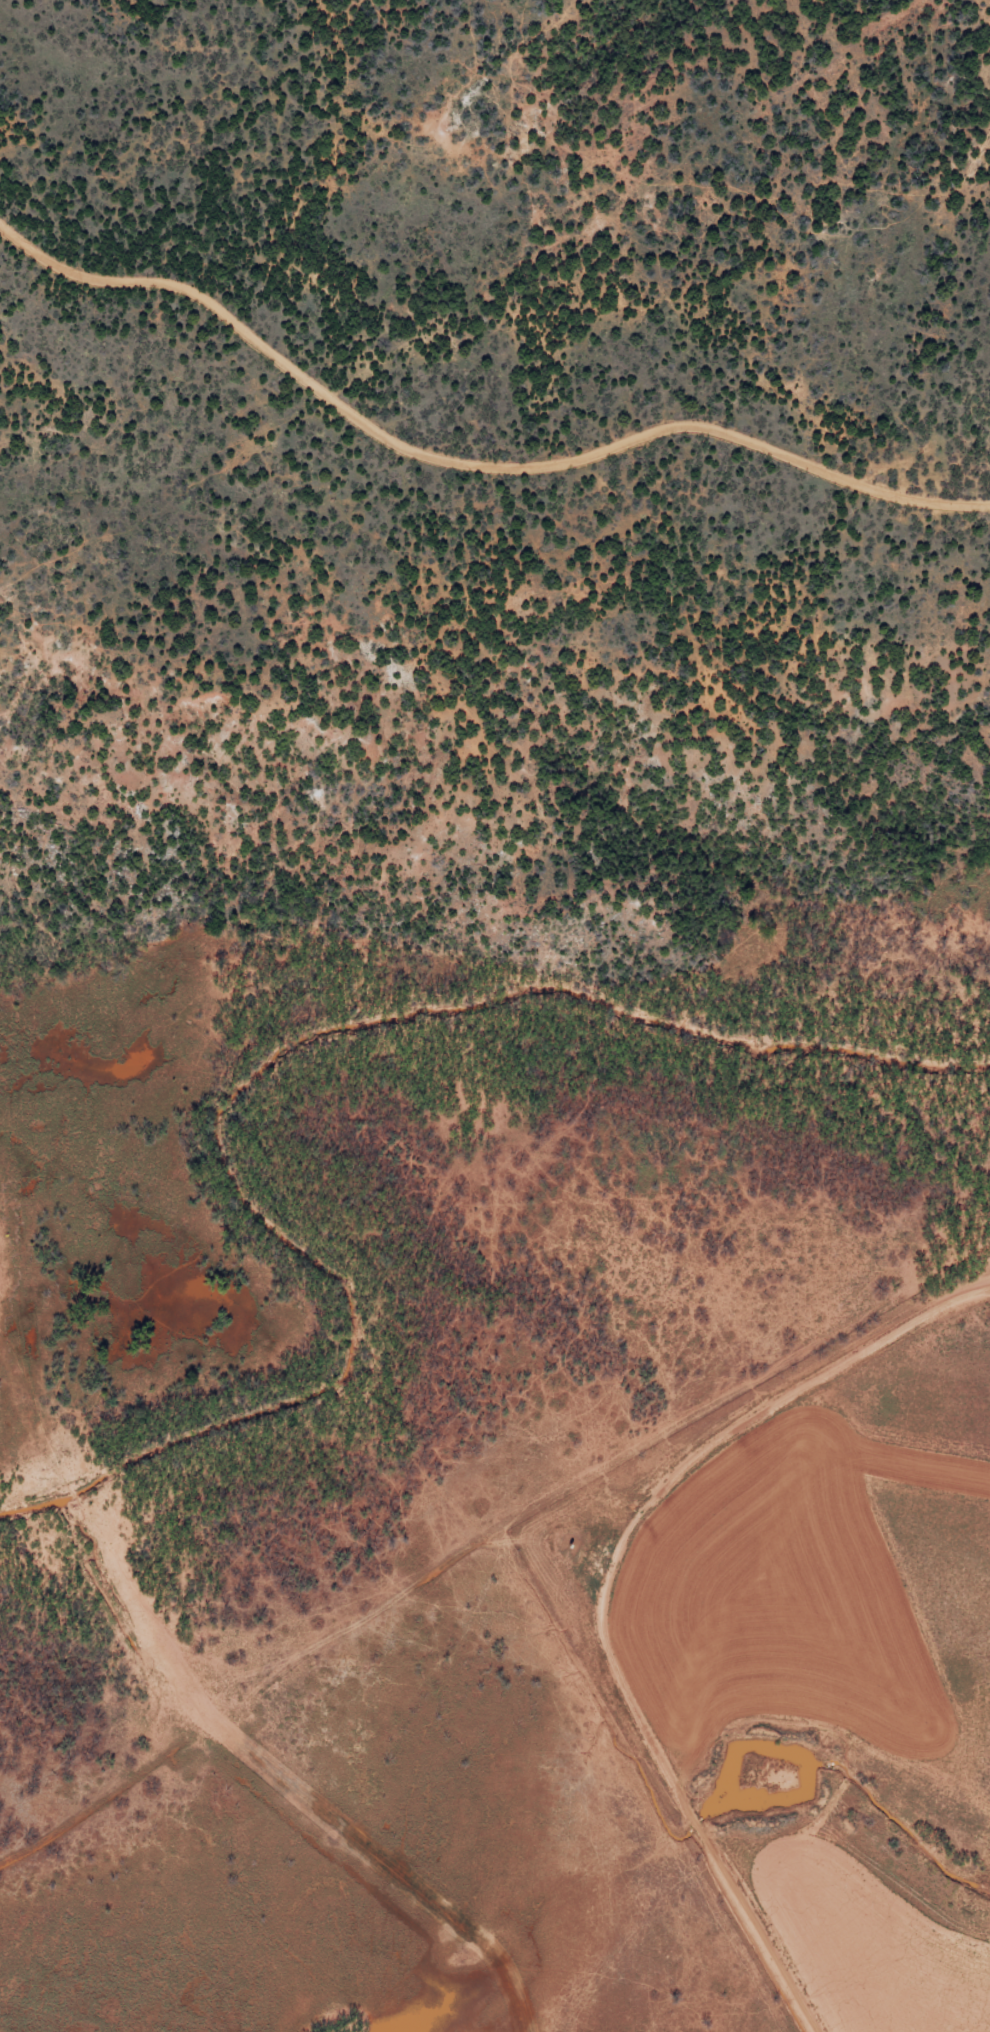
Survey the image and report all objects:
road: (178, 245)
road: (464, 296)

